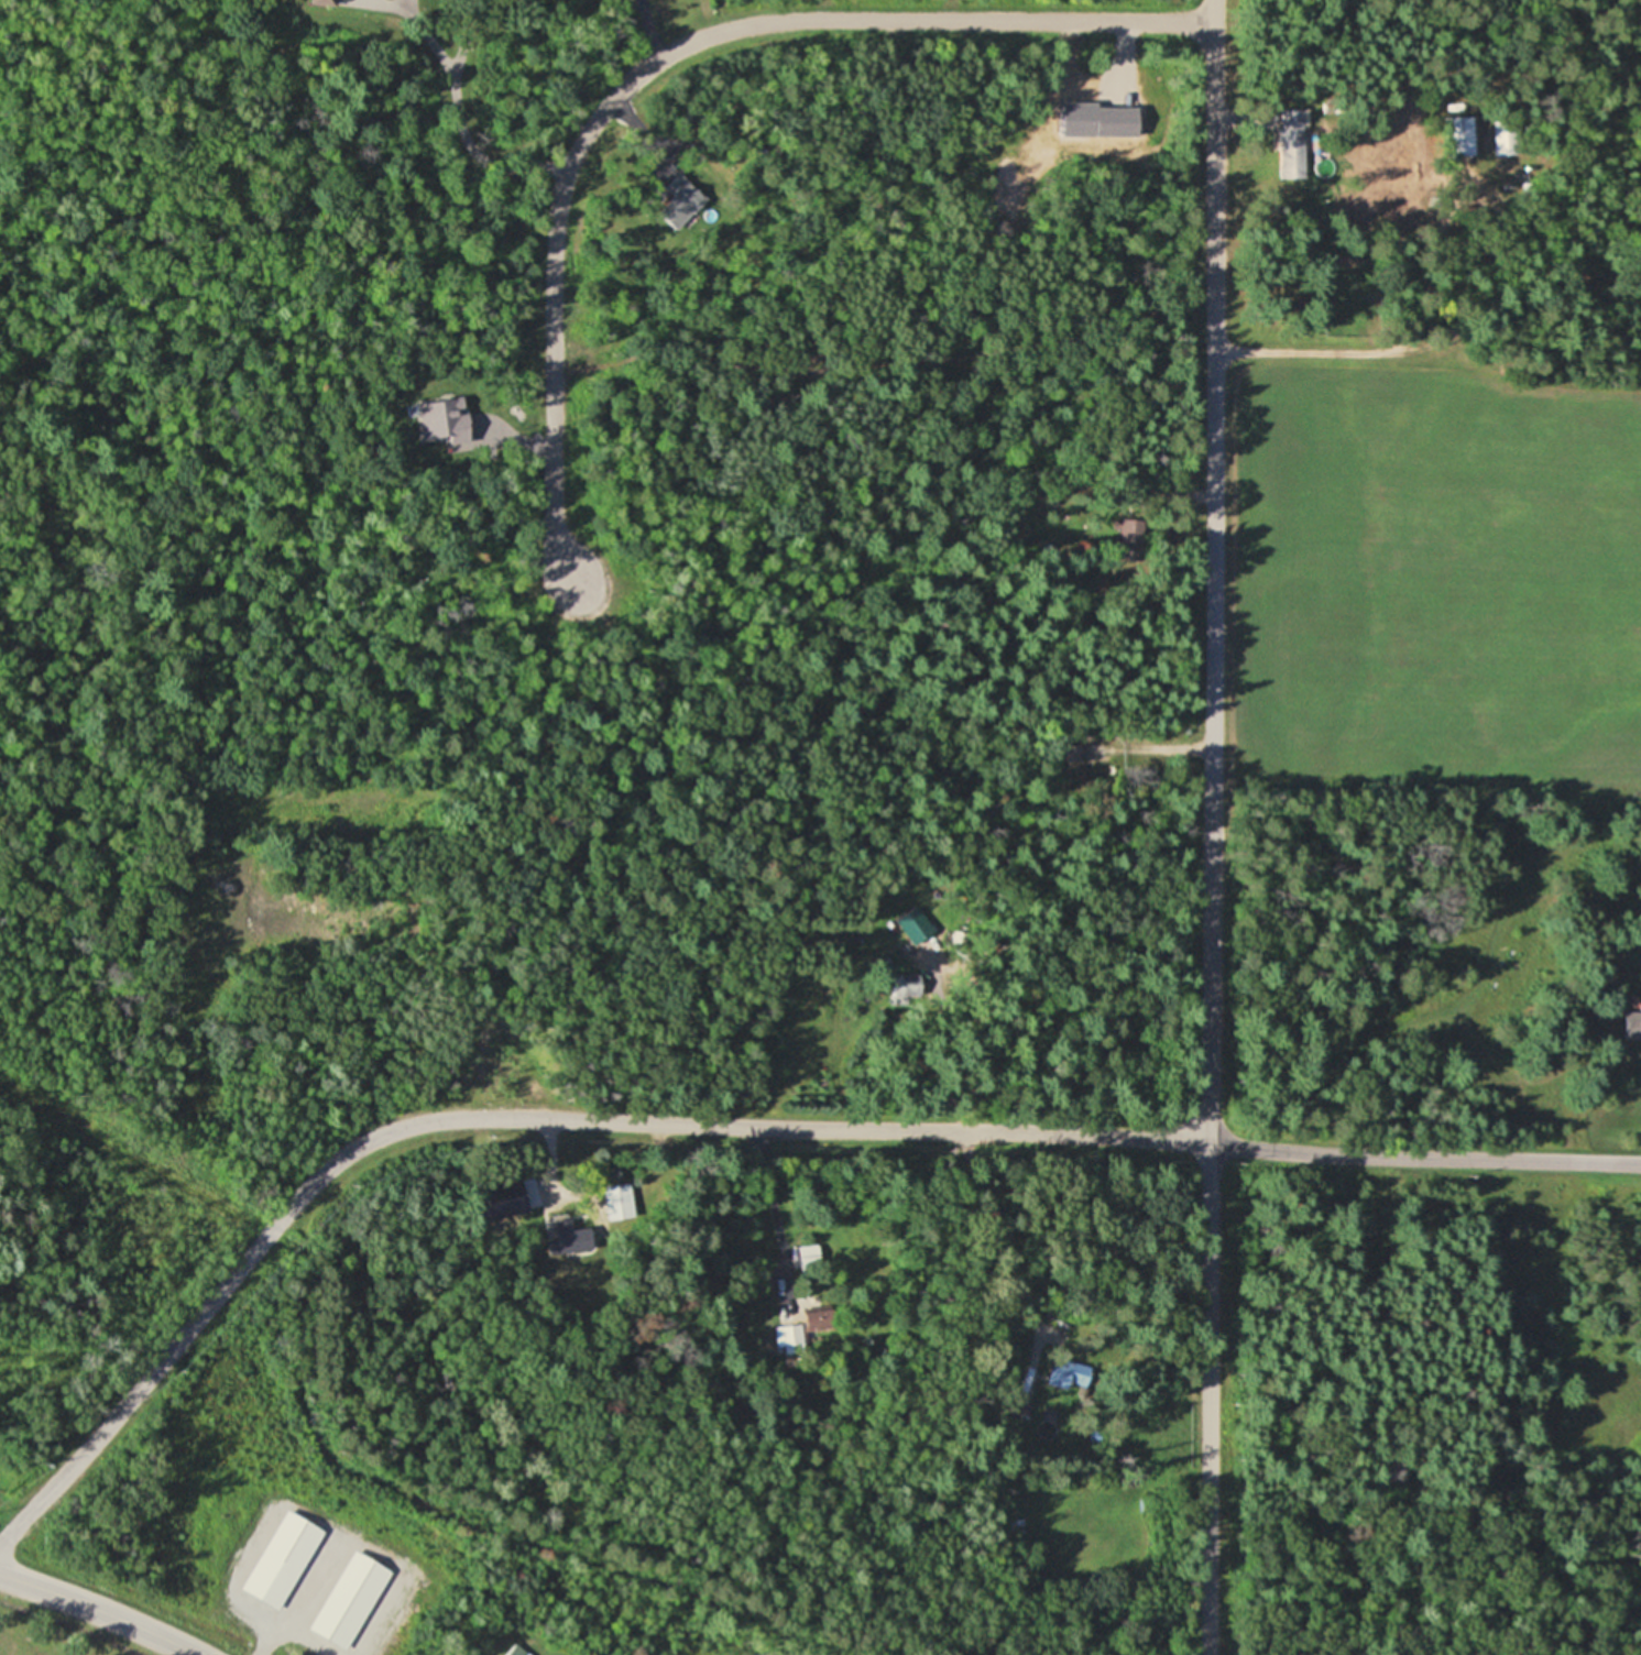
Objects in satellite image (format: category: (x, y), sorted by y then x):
building: (326, 2)
road: (658, 59)
road: (467, 132)
building: (1458, 135)
building: (1503, 138)
building: (1287, 145)
road: (1368, 351)
crop: (1433, 572)
road: (1211, 827)
building: (1633, 1027)
road: (727, 1125)
building: (619, 1202)
building: (808, 1257)
building: (790, 1335)
building: (1069, 1375)
building: (294, 1542)
building: (350, 1601)
road: (99, 1610)
road: (288, 1612)
building: (516, 1651)

